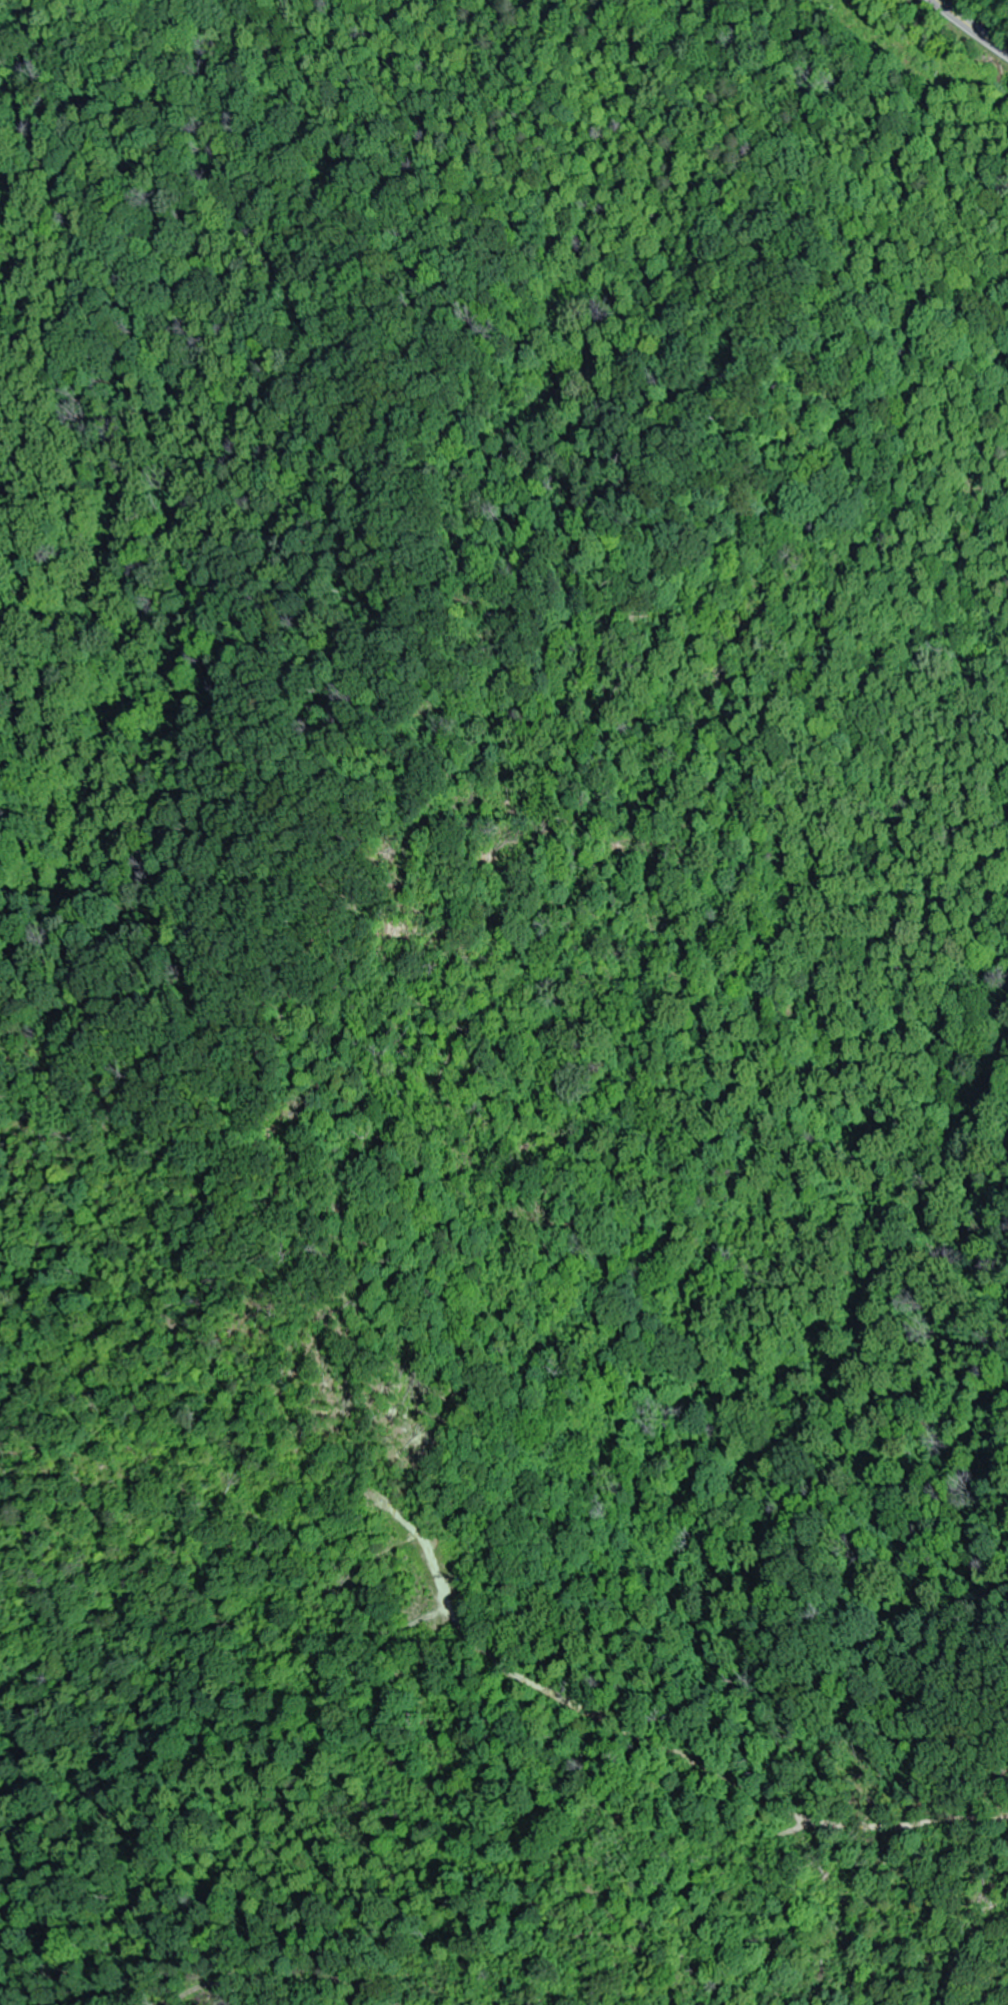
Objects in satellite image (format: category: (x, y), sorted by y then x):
road: (972, 27)

